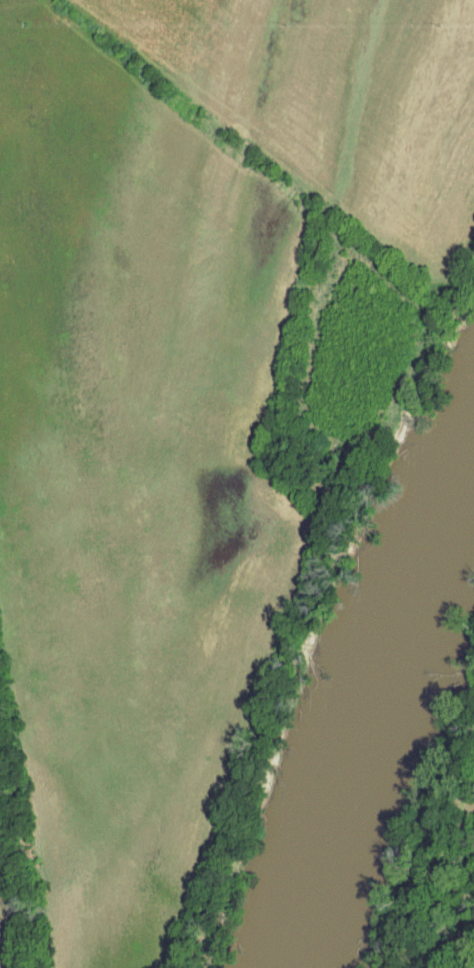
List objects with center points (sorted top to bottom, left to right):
river: (385, 713)

